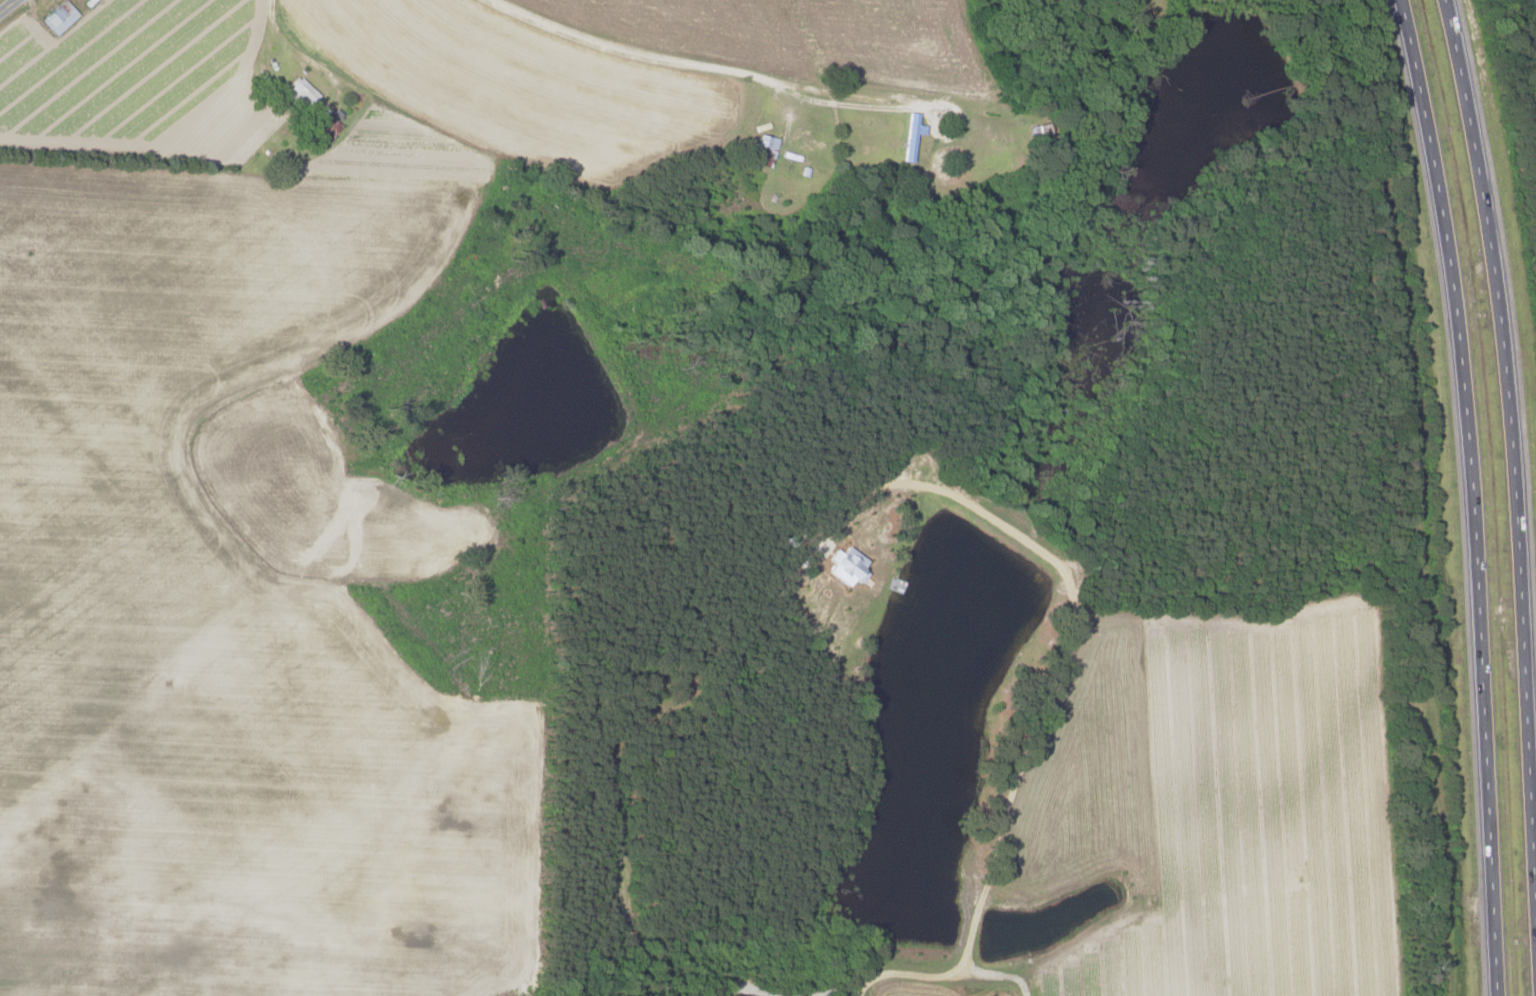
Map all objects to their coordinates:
road: (7, 5)
building: (58, 17)
road: (288, 45)
road: (702, 67)
building: (300, 92)
building: (327, 128)
building: (911, 136)
building: (764, 151)
road: (1512, 454)
road: (1467, 495)
building: (845, 565)
road: (1054, 683)

